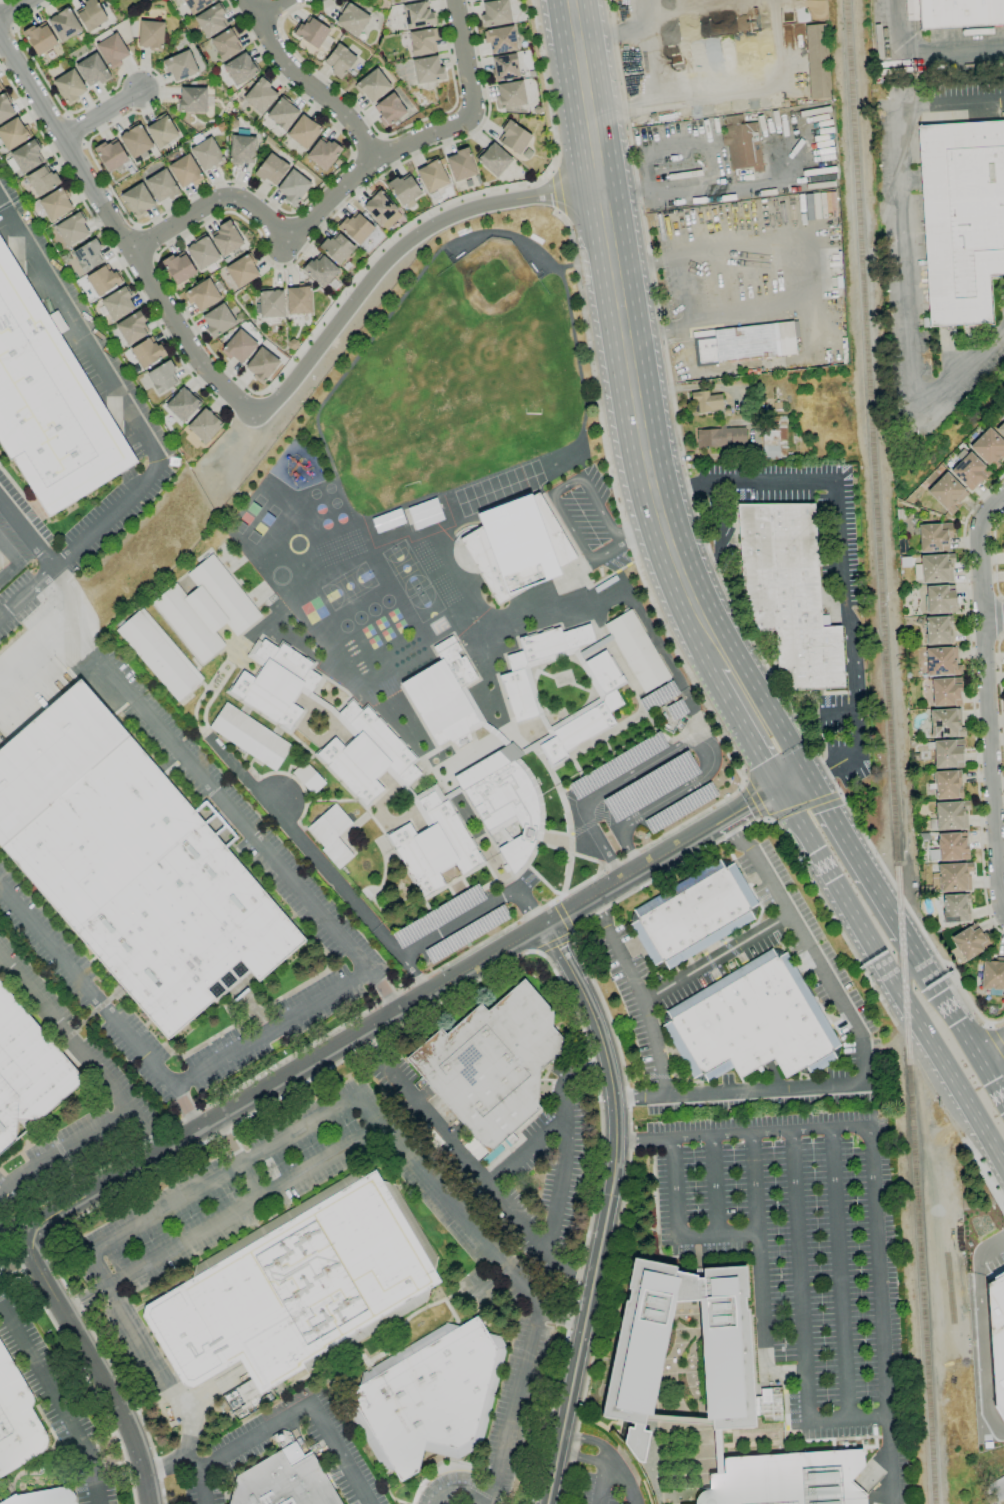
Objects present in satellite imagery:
building: (406, 1)
building: (197, 5)
road: (13, 7)
road: (269, 8)
building: (496, 13)
building: (960, 13)
building: (90, 14)
building: (418, 15)
road: (635, 15)
building: (211, 20)
building: (352, 20)
building: (65, 24)
building: (312, 33)
building: (150, 34)
building: (39, 37)
road: (603, 37)
building: (501, 40)
building: (423, 42)
building: (226, 43)
road: (927, 49)
building: (113, 51)
building: (340, 61)
building: (818, 61)
building: (180, 66)
building: (505, 68)
building: (92, 69)
building: (241, 69)
building: (428, 70)
building: (372, 85)
building: (70, 87)
road: (750, 87)
road: (584, 93)
building: (260, 95)
building: (510, 95)
building: (195, 99)
road: (615, 105)
building: (5, 108)
building: (389, 110)
road: (105, 111)
building: (283, 113)
road: (371, 124)
building: (162, 131)
building: (305, 131)
building: (13, 134)
road: (382, 136)
road: (42, 137)
building: (514, 137)
building: (136, 141)
building: (742, 144)
road: (367, 147)
building: (242, 150)
building: (324, 153)
building: (110, 154)
building: (207, 155)
road: (353, 155)
road: (381, 155)
building: (25, 158)
building: (494, 160)
building: (461, 165)
building: (271, 169)
building: (186, 171)
road: (552, 171)
building: (432, 176)
building: (42, 181)
building: (162, 186)
building: (293, 187)
building: (404, 189)
road: (714, 190)
road: (555, 191)
road: (355, 196)
building: (138, 200)
building: (55, 204)
building: (380, 207)
road: (557, 213)
road: (263, 217)
road: (130, 218)
building: (962, 218)
building: (356, 228)
building: (73, 229)
building: (227, 239)
building: (337, 248)
road: (380, 251)
building: (202, 253)
building: (88, 255)
building: (178, 268)
road: (900, 269)
building: (242, 270)
building: (320, 271)
building: (103, 280)
park: (493, 280)
road: (683, 289)
building: (202, 295)
building: (299, 299)
building: (118, 303)
building: (271, 303)
road: (150, 313)
building: (218, 320)
building: (133, 327)
building: (743, 343)
building: (239, 347)
building: (148, 352)
building: (262, 365)
road: (593, 373)
building: (163, 377)
road: (119, 395)
building: (705, 402)
building: (49, 404)
building: (183, 404)
road: (243, 405)
building: (205, 425)
building: (1001, 429)
road: (642, 432)
building: (720, 437)
building: (773, 438)
road: (680, 446)
building: (989, 448)
building: (969, 471)
road: (557, 488)
building: (947, 493)
building: (424, 514)
parking lot: (588, 519)
building: (387, 521)
road: (648, 532)
building: (934, 537)
building: (1003, 537)
road: (619, 543)
building: (516, 546)
road: (996, 558)
road: (841, 563)
park: (404, 568)
building: (934, 568)
park: (348, 585)
road: (26, 592)
building: (789, 593)
road: (72, 596)
building: (941, 599)
park: (425, 603)
building: (205, 609)
road: (995, 618)
building: (938, 630)
building: (254, 649)
building: (637, 651)
building: (159, 655)
building: (942, 661)
building: (515, 674)
building: (530, 682)
building: (276, 684)
building: (946, 692)
building: (446, 696)
building: (658, 697)
road: (1000, 697)
road: (973, 699)
road: (989, 699)
building: (676, 709)
building: (327, 710)
road: (753, 710)
building: (588, 711)
building: (946, 723)
building: (250, 737)
road: (680, 745)
railway: (890, 751)
building: (947, 753)
building: (367, 755)
building: (617, 766)
road: (786, 769)
building: (308, 778)
road: (744, 781)
traffic signals: (794, 784)
building: (948, 785)
parking lot: (642, 786)
building: (650, 787)
road: (839, 792)
building: (421, 794)
road: (756, 800)
building: (506, 801)
road: (752, 802)
road: (802, 806)
building: (680, 808)
road: (234, 816)
building: (950, 816)
road: (767, 819)
road: (831, 821)
building: (214, 823)
building: (332, 835)
road: (304, 845)
building: (434, 846)
building: (950, 847)
building: (132, 865)
road: (626, 875)
building: (952, 878)
road: (880, 900)
building: (956, 908)
road: (475, 912)
building: (693, 914)
building: (438, 917)
parking lot: (453, 925)
road: (572, 930)
building: (466, 933)
road: (553, 940)
building: (971, 941)
road: (933, 947)
road: (535, 950)
road: (715, 957)
building: (992, 972)
road: (415, 975)
road: (889, 977)
road: (595, 987)
road: (101, 1008)
road: (366, 1012)
road: (646, 1015)
road: (953, 1017)
road: (411, 1019)
building: (752, 1023)
road: (269, 1031)
road: (857, 1032)
road: (995, 1038)
road: (990, 1049)
building: (492, 1064)
building: (28, 1071)
road: (289, 1077)
road: (926, 1082)
road: (114, 1090)
road: (743, 1134)
road: (564, 1137)
road: (521, 1149)
road: (236, 1158)
road: (470, 1166)
road: (982, 1176)
road: (715, 1186)
road: (676, 1189)
road: (243, 1205)
road: (608, 1208)
road: (121, 1231)
road: (719, 1235)
road: (991, 1247)
road: (759, 1252)
road: (16, 1262)
road: (839, 1274)
road: (800, 1276)
road: (508, 1277)
building: (298, 1287)
road: (560, 1315)
road: (881, 1316)
building: (996, 1338)
road: (983, 1347)
building: (639, 1349)
building: (371, 1355)
road: (93, 1361)
road: (786, 1372)
building: (429, 1397)
road: (60, 1399)
road: (848, 1419)
building: (17, 1420)
road: (591, 1440)
road: (243, 1442)
building: (717, 1452)
road: (341, 1453)
road: (115, 1457)
road: (586, 1461)
road: (198, 1464)
road: (164, 1466)
road: (627, 1479)
building: (786, 1479)
building: (283, 1483)
road: (461, 1488)
building: (996, 1488)
building: (44, 1497)

